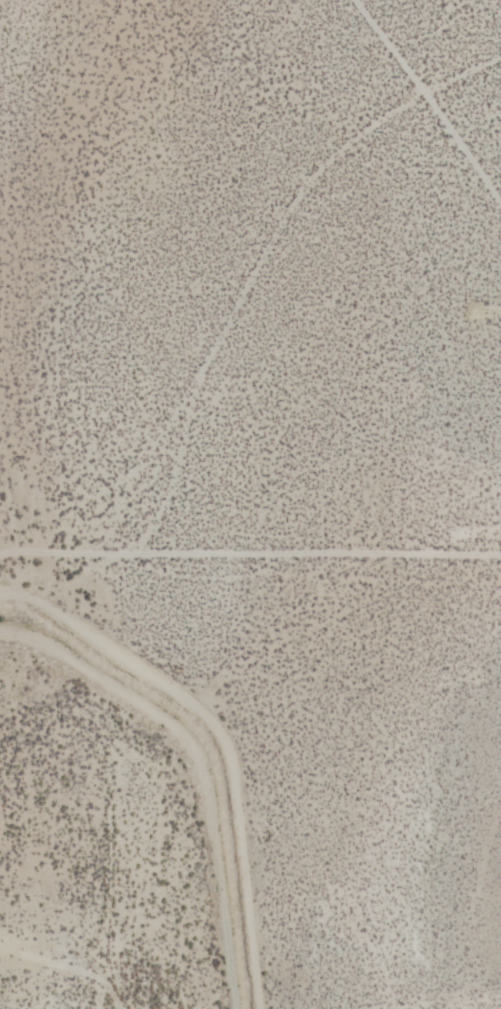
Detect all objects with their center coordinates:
road: (441, 94)
road: (272, 261)
road: (250, 550)
road: (224, 738)
road: (196, 769)

